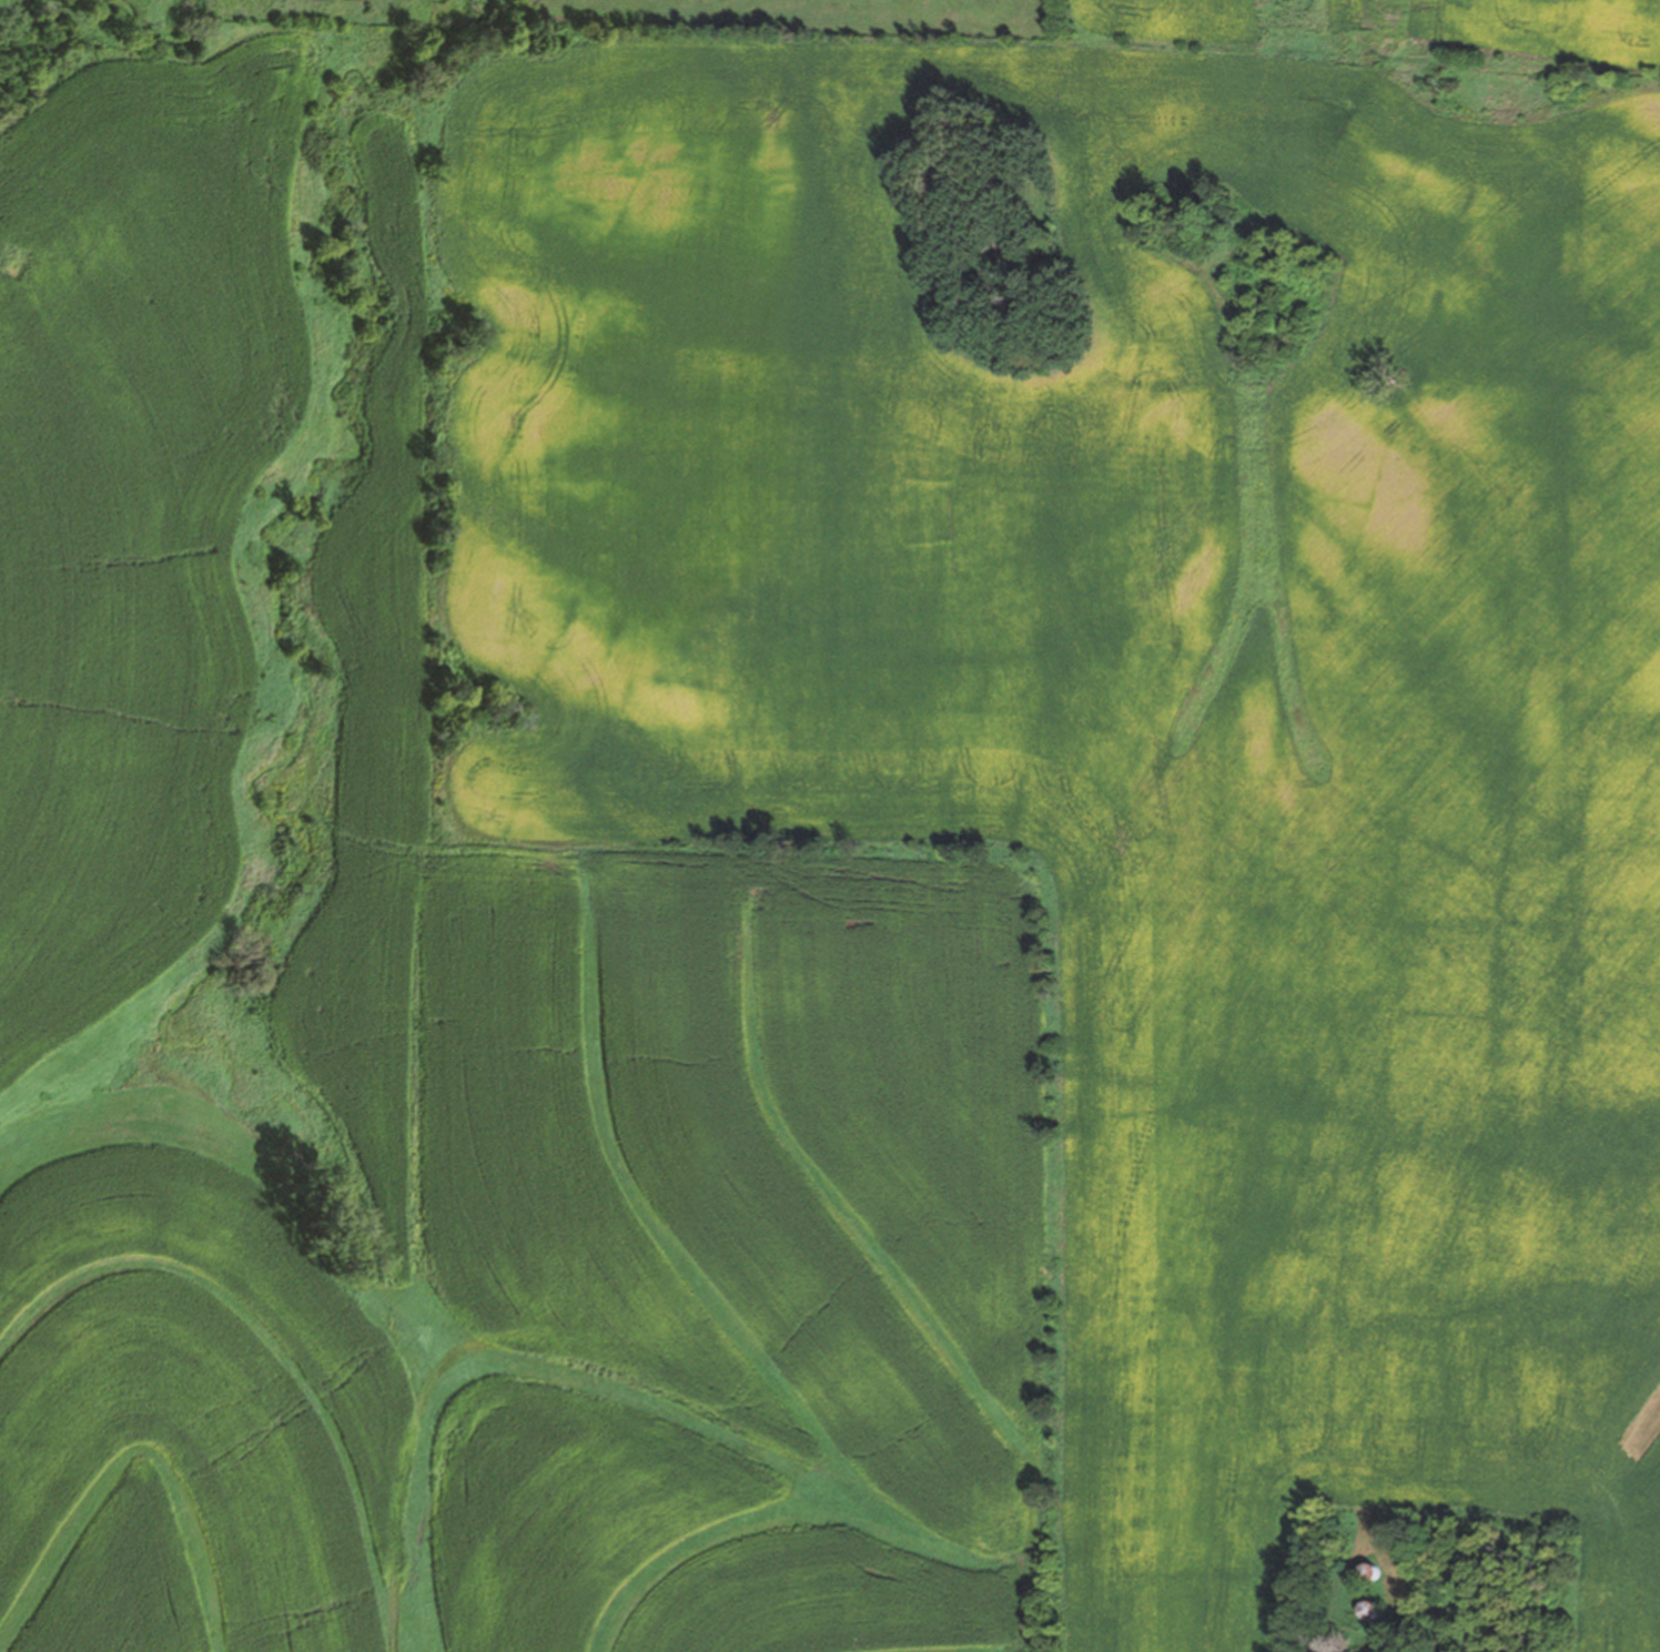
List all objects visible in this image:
building: (1375, 1572)
building: (1375, 1610)
road: (1447, 1635)

